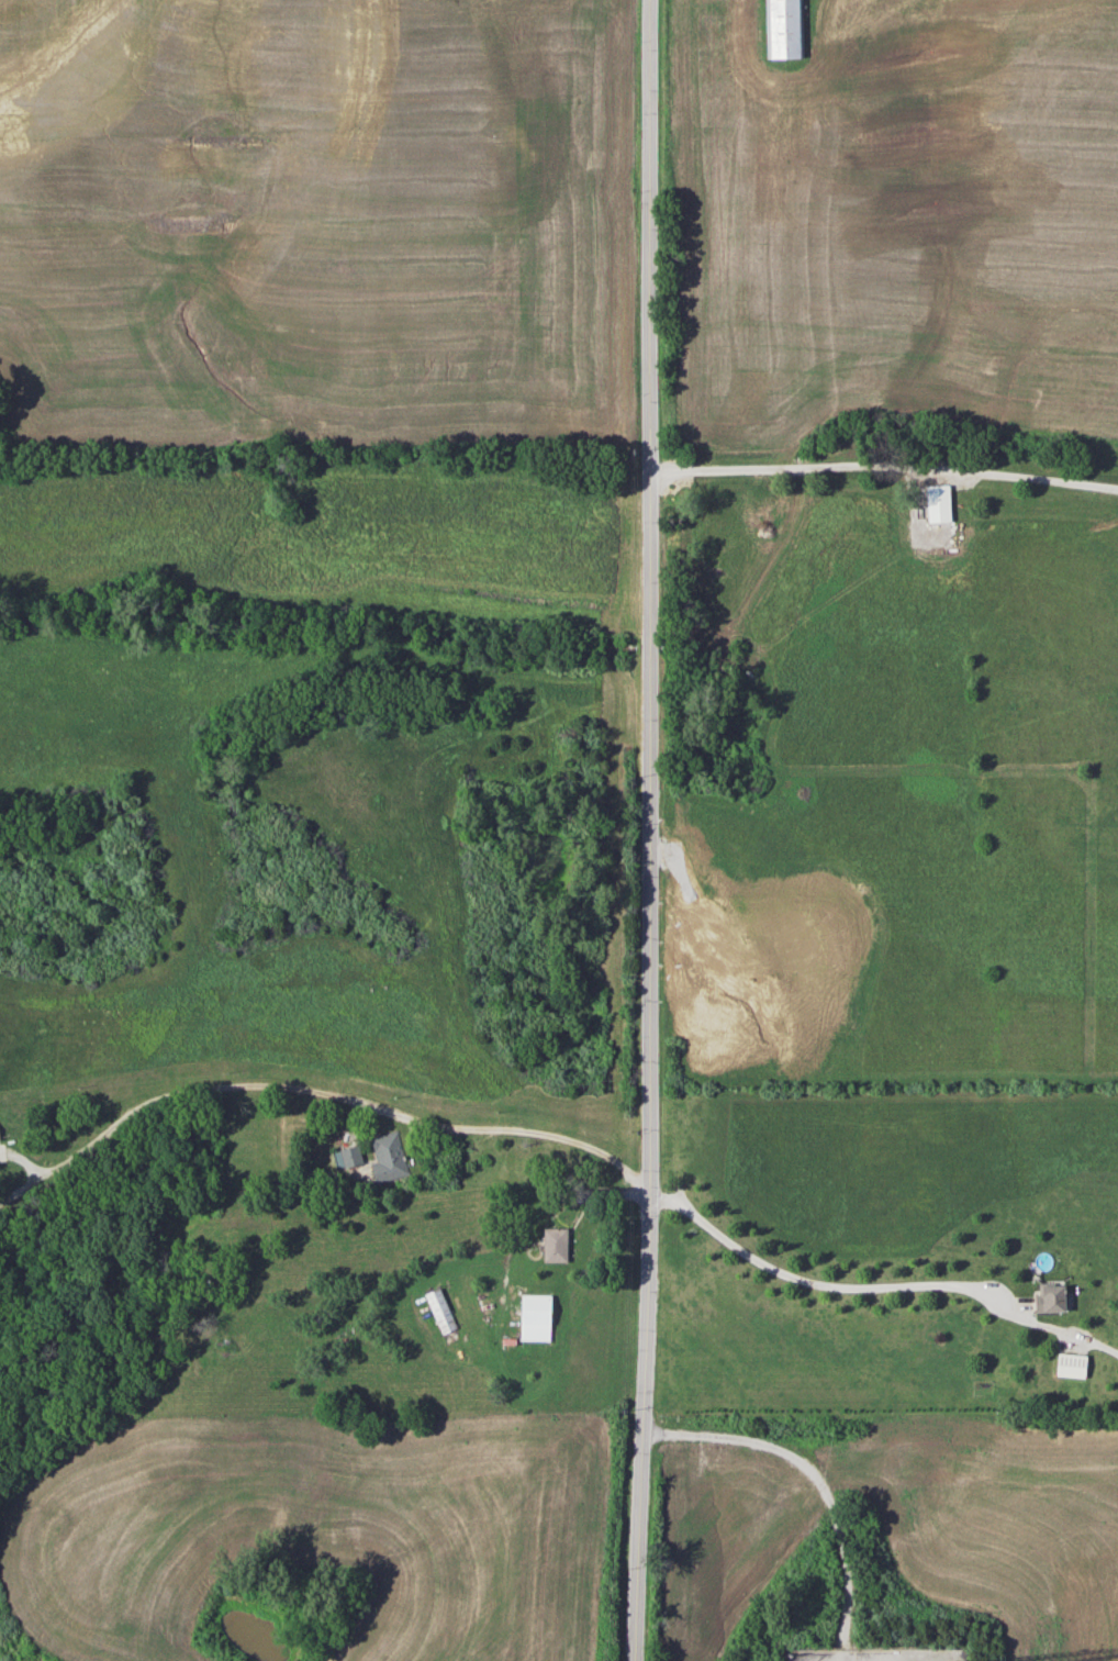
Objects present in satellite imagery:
building: (783, 29)
road: (883, 462)
building: (937, 502)
road: (648, 830)
road: (340, 1095)
building: (346, 1156)
building: (387, 1157)
building: (554, 1244)
road: (825, 1285)
building: (1048, 1297)
building: (439, 1311)
building: (534, 1316)
road: (1070, 1333)
building: (1070, 1364)
road: (809, 1470)

